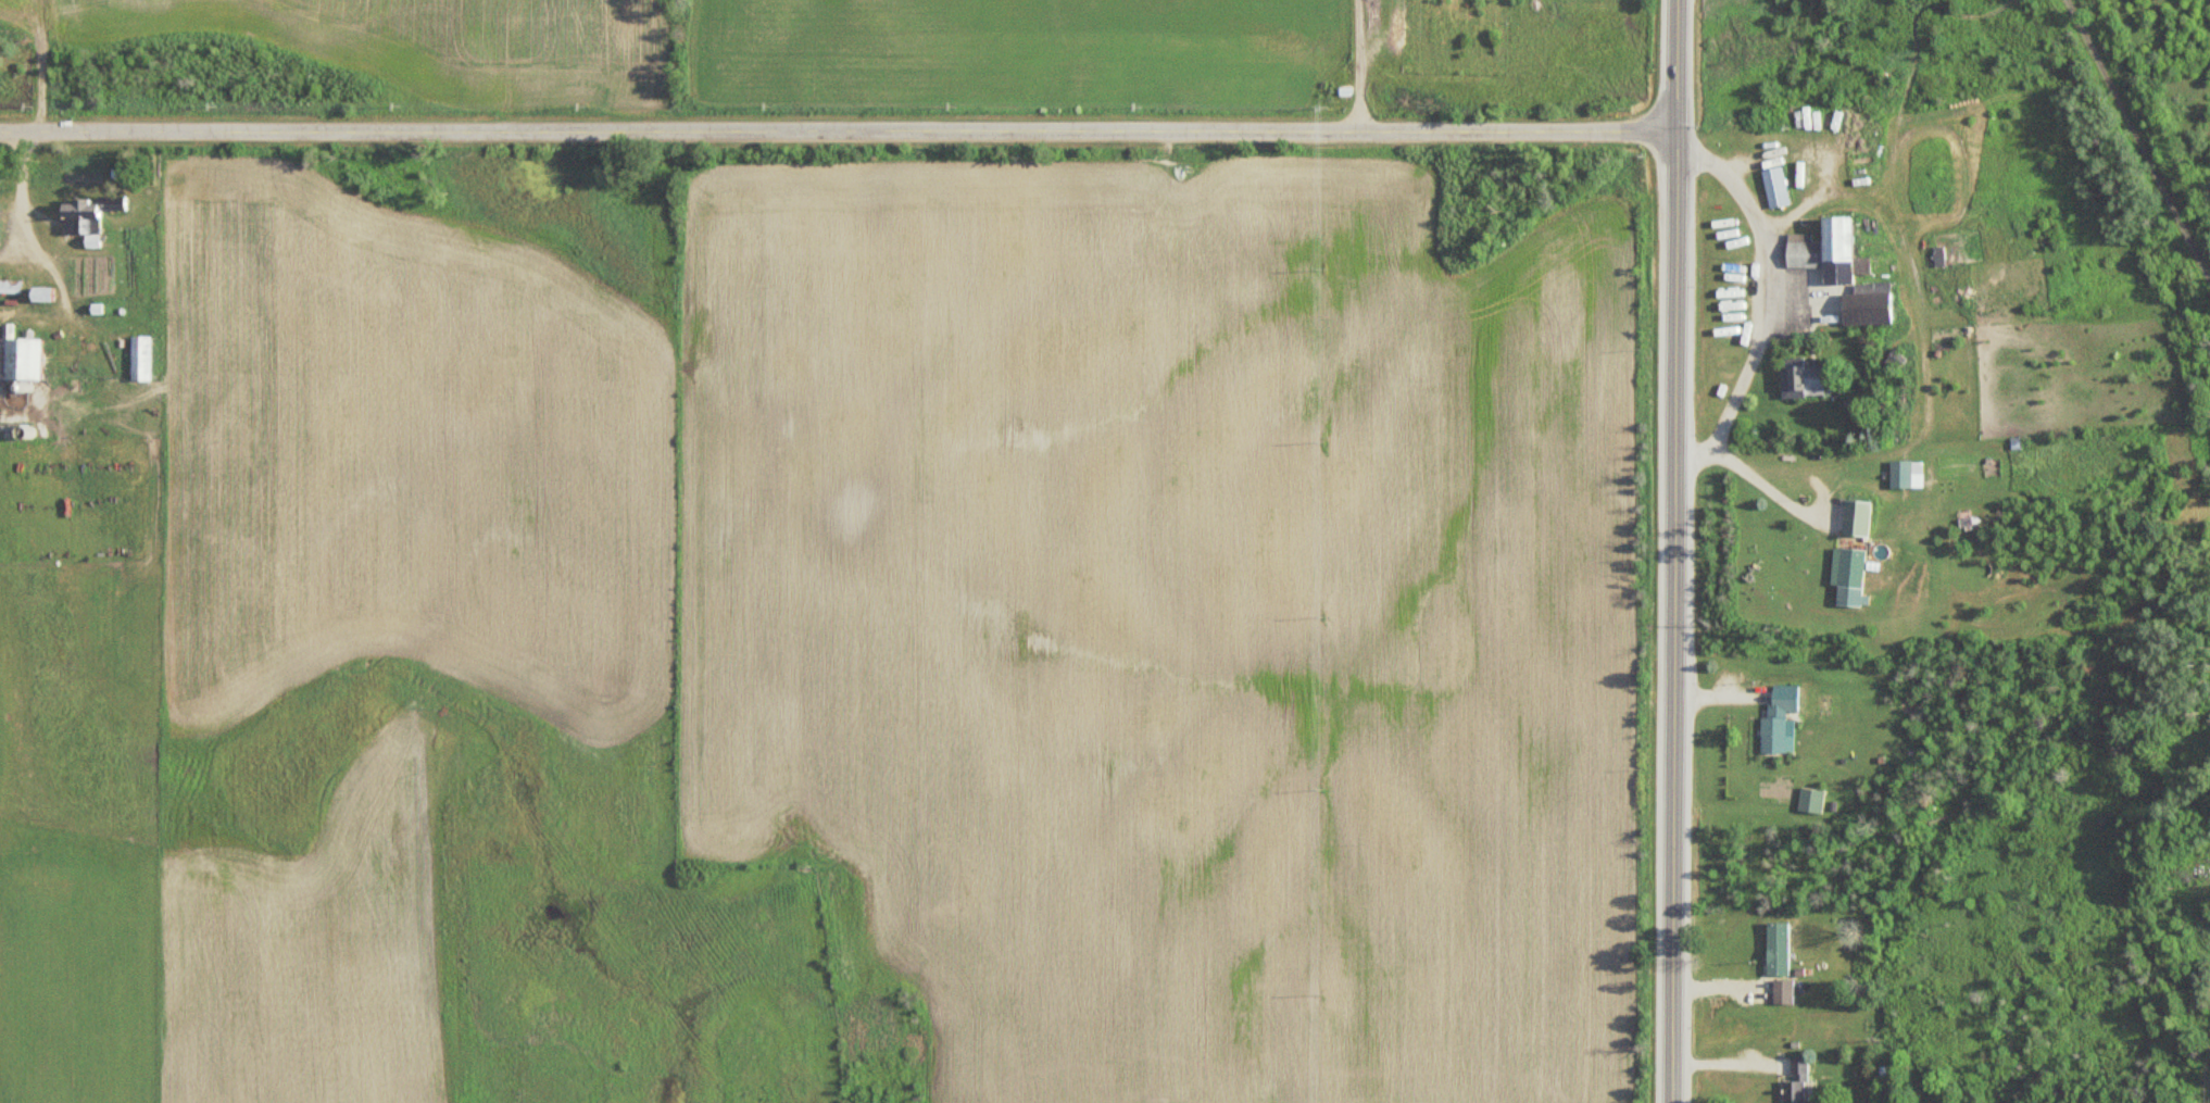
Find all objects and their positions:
road: (2139, 133)
road: (831, 137)
building: (1772, 186)
building: (78, 216)
building: (1838, 274)
building: (18, 356)
building: (138, 356)
building: (1798, 376)
building: (1903, 473)
building: (1853, 516)
road: (1667, 551)
building: (1847, 576)
building: (1775, 719)
building: (1775, 949)
building: (1780, 991)
road: (2207, 1071)
building: (1794, 1082)

